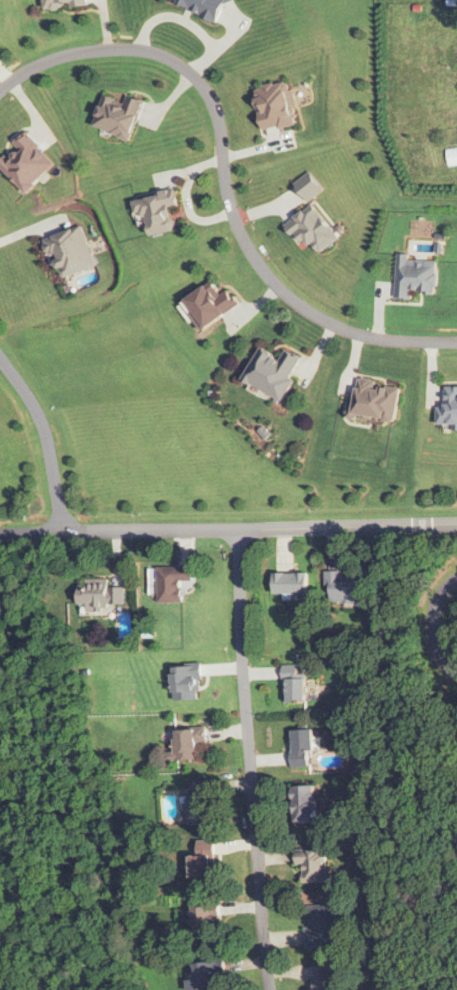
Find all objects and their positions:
building: (62, 3)
building: (276, 105)
building: (119, 117)
building: (26, 163)
road: (223, 175)
building: (158, 211)
building: (312, 230)
building: (70, 252)
building: (414, 277)
building: (210, 304)
building: (273, 371)
building: (376, 400)
building: (447, 405)
road: (44, 440)
road: (228, 530)
building: (172, 583)
building: (291, 583)
building: (345, 586)
building: (101, 593)
road: (432, 625)
building: (186, 682)
building: (293, 684)
building: (186, 743)
building: (300, 747)
road: (249, 760)
building: (304, 804)
building: (197, 805)
building: (204, 861)
building: (312, 865)
building: (208, 918)
building: (321, 925)
building: (209, 977)
building: (323, 977)

